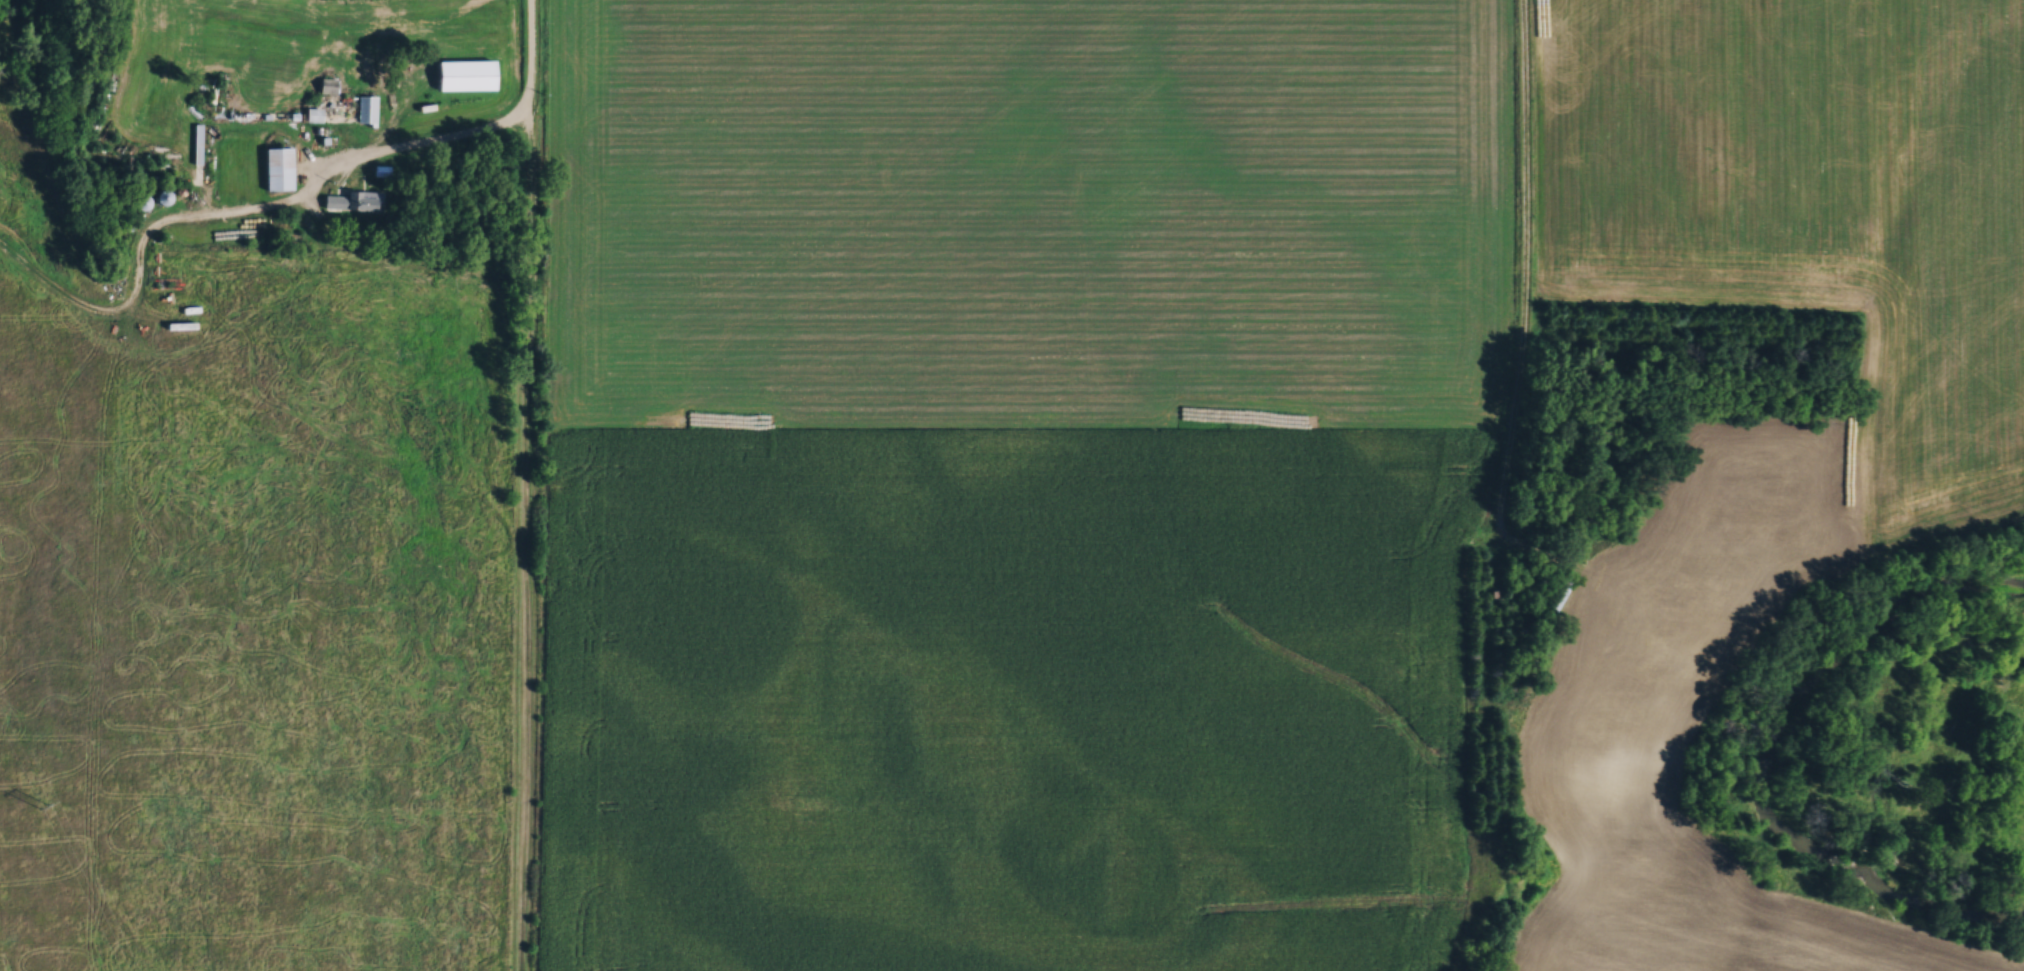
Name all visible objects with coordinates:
building: (464, 74)
building: (367, 109)
road: (475, 133)
building: (277, 168)
building: (159, 196)
building: (139, 201)
building: (350, 201)
road: (1525, 317)
building: (1551, 598)
power tower: (45, 806)

